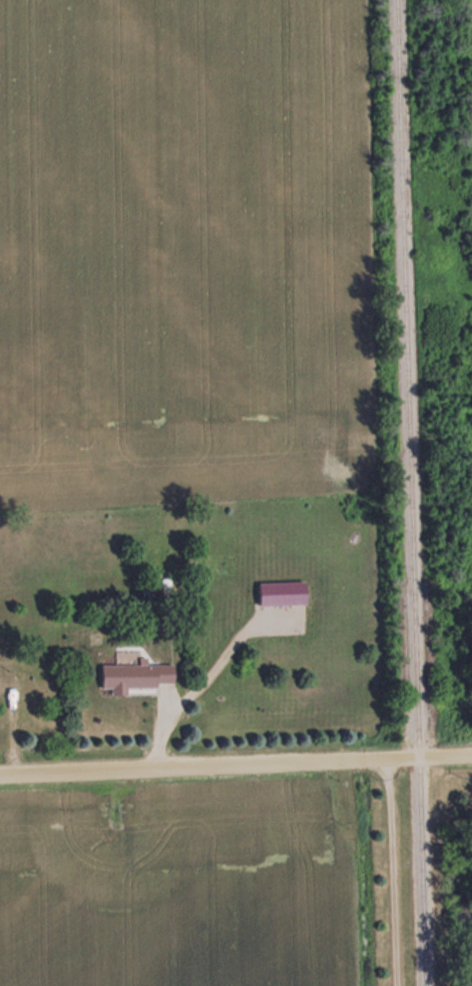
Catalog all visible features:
railway: (411, 493)
building: (154, 590)
building: (135, 676)
building: (9, 684)
road: (235, 762)

